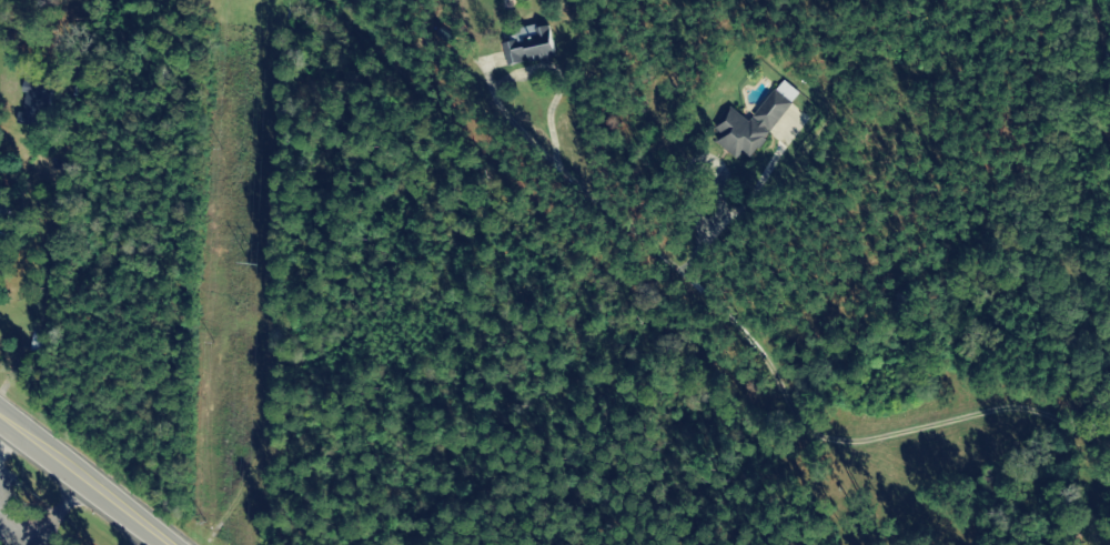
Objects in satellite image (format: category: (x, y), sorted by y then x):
road: (1043, 44)
building: (523, 46)
building: (745, 125)
building: (2, 212)
building: (39, 340)
road: (85, 480)

